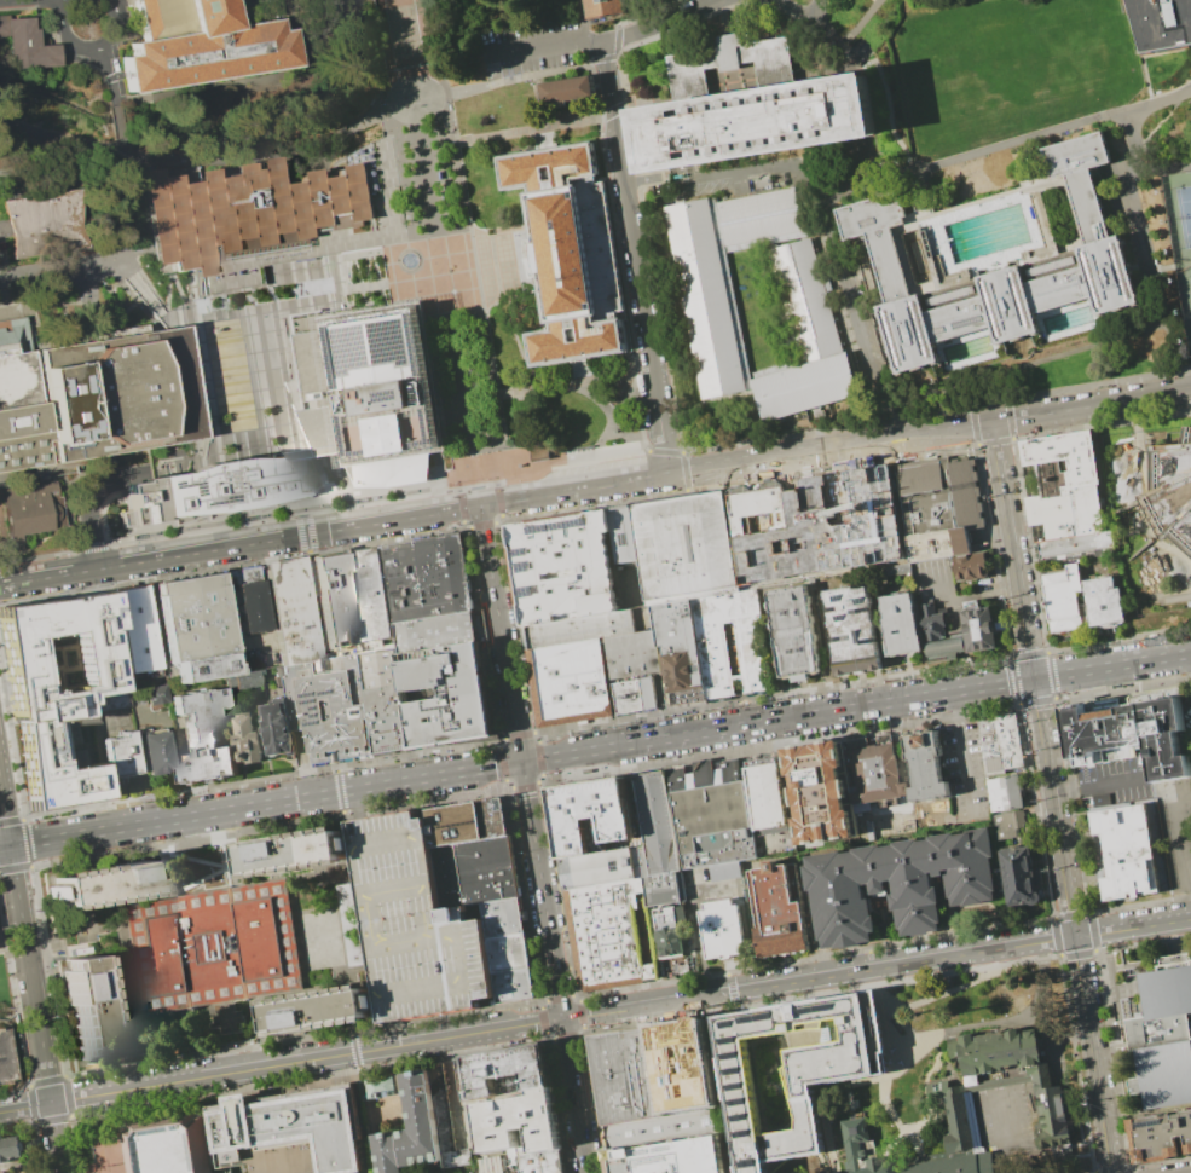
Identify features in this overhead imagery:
road: (19, 0)
road: (60, 1)
road: (237, 2)
building: (602, 7)
road: (680, 7)
road: (820, 11)
road: (648, 13)
road: (721, 16)
road: (866, 17)
road: (664, 24)
road: (736, 24)
building: (1161, 24)
road: (823, 27)
road: (401, 34)
road: (617, 42)
building: (25, 44)
building: (200, 45)
road: (548, 45)
road: (89, 48)
parking lot: (533, 50)
building: (727, 50)
road: (606, 54)
road: (813, 54)
road: (618, 57)
road: (603, 59)
road: (728, 59)
road: (591, 65)
road: (495, 69)
road: (852, 71)
road: (111, 77)
road: (510, 82)
building: (566, 89)
road: (259, 91)
road: (666, 96)
road: (380, 100)
road: (629, 100)
road: (889, 103)
road: (264, 106)
road: (857, 106)
road: (624, 108)
road: (613, 111)
building: (751, 111)
road: (118, 114)
road: (206, 115)
road: (600, 117)
road: (1158, 125)
road: (532, 131)
road: (1051, 132)
road: (121, 139)
road: (540, 143)
road: (641, 143)
road: (441, 145)
road: (844, 149)
road: (862, 149)
road: (308, 157)
road: (210, 160)
road: (878, 160)
road: (770, 167)
road: (1163, 171)
road: (840, 184)
road: (127, 187)
building: (254, 209)
park: (1184, 215)
building: (761, 216)
park: (1184, 216)
road: (613, 221)
parking lot: (1183, 224)
building: (50, 226)
road: (370, 229)
road: (470, 229)
road: (488, 229)
road: (484, 230)
road: (525, 230)
road: (126, 233)
building: (1180, 237)
road: (371, 252)
building: (570, 252)
road: (1151, 252)
road: (351, 256)
fountain: (412, 261)
building: (999, 264)
road: (637, 271)
road: (126, 272)
road: (70, 273)
road: (432, 276)
road: (443, 276)
road: (865, 276)
road: (445, 277)
road: (381, 278)
park: (1190, 284)
road: (351, 288)
building: (805, 297)
road: (521, 300)
building: (706, 300)
road: (368, 301)
road: (777, 304)
road: (856, 306)
road: (163, 310)
road: (173, 313)
rooftop solar panel: (372, 316)
road: (738, 319)
rooftop solar panel: (418, 333)
rooftop solar panel: (395, 337)
rooftop solar panel: (336, 341)
rooftop solar panel: (358, 342)
road: (520, 352)
road: (1028, 364)
road: (643, 371)
rooftop solar panel: (76, 376)
road: (635, 376)
rooftop solar panel: (53, 377)
rooftop solar panel: (68, 383)
road: (572, 383)
building: (375, 387)
building: (805, 387)
rooftop solar panel: (398, 389)
building: (117, 394)
road: (481, 398)
building: (18, 400)
road: (671, 400)
rooftop solar panel: (67, 411)
road: (640, 412)
road: (613, 415)
road: (613, 417)
road: (1008, 417)
rooftop solar panel: (432, 420)
rooftop solar panel: (86, 423)
road: (972, 423)
road: (1102, 424)
rooftop solar panel: (60, 428)
road: (929, 433)
rooftop solar panel: (349, 439)
road: (995, 440)
rooftop solar panel: (422, 441)
road: (317, 449)
rooftop solar panel: (365, 449)
road: (647, 450)
road: (935, 450)
road: (618, 452)
road: (665, 452)
parking lot: (155, 470)
road: (684, 470)
building: (392, 472)
road: (495, 478)
rooftop solar panel: (291, 480)
rooftop solar panel: (187, 481)
road: (459, 484)
building: (1063, 485)
rooftop solar panel: (208, 487)
road: (314, 487)
road: (428, 487)
rooftop solar panel: (241, 489)
road: (688, 489)
road: (696, 489)
road: (574, 491)
building: (207, 492)
building: (1155, 493)
rooftop solar panel: (219, 495)
road: (478, 495)
rooftop solar panel: (174, 497)
road: (985, 497)
road: (497, 498)
road: (349, 502)
road: (96, 504)
road: (462, 505)
road: (60, 507)
traffic signals: (480, 507)
building: (25, 510)
road: (499, 516)
road: (497, 521)
road: (301, 522)
rooftop solar panel: (572, 522)
road: (481, 525)
building: (817, 525)
road: (468, 526)
road: (354, 527)
rooftop solar panel: (540, 528)
parking lot: (988, 528)
road: (1116, 531)
building: (1075, 543)
road: (305, 544)
road: (1030, 544)
road: (93, 545)
building: (683, 547)
road: (24, 550)
rooftop solar panel: (527, 550)
road: (1013, 550)
road: (40, 554)
road: (163, 557)
road: (232, 565)
rooftop solar panel: (527, 566)
building: (971, 571)
road: (50, 577)
building: (578, 577)
building: (429, 580)
parking lot: (937, 583)
road: (1010, 590)
rooftop solar panel: (530, 591)
building: (369, 596)
road: (960, 599)
building: (1065, 599)
building: (1105, 601)
building: (333, 602)
road: (1001, 603)
building: (249, 605)
road: (316, 613)
building: (293, 614)
rooftop solar panel: (843, 616)
building: (901, 623)
building: (195, 629)
building: (956, 629)
building: (137, 630)
building: (852, 630)
road: (519, 631)
road: (501, 634)
road: (481, 635)
building: (794, 635)
building: (439, 636)
road: (1118, 638)
building: (751, 647)
building: (677, 652)
building: (630, 654)
building: (268, 658)
road: (735, 664)
traffic signals: (1035, 678)
building: (242, 681)
building: (570, 681)
building: (54, 686)
rooftop solar panel: (323, 692)
rooftop solar panel: (310, 693)
building: (632, 694)
road: (773, 694)
building: (156, 697)
building: (385, 697)
building: (449, 697)
road: (1054, 698)
rooftop solar panel: (312, 699)
building: (115, 700)
road: (955, 705)
rooftop solar panel: (314, 706)
building: (329, 710)
parking lot: (1187, 712)
rooftop solar panel: (316, 713)
road: (329, 713)
rooftop solar panel: (316, 721)
building: (278, 728)
road: (533, 733)
road: (518, 735)
building: (1135, 735)
building: (203, 736)
building: (247, 740)
building: (999, 742)
road: (11, 749)
road: (600, 749)
road: (539, 751)
building: (155, 752)
building: (121, 755)
road: (501, 757)
traffic signals: (521, 762)
road: (964, 763)
building: (924, 765)
parking lot: (964, 770)
road: (337, 772)
building: (877, 776)
road: (264, 779)
parking lot: (1112, 780)
road: (1100, 786)
building: (822, 792)
building: (1004, 792)
building: (769, 796)
road: (387, 802)
building: (590, 813)
building: (712, 813)
road: (5, 814)
building: (498, 822)
building: (1011, 824)
building: (461, 828)
parking lot: (1176, 831)
building: (658, 840)
road: (5, 845)
traffic signals: (10, 845)
road: (27, 845)
road: (233, 850)
road: (1183, 850)
building: (1128, 851)
building: (295, 855)
road: (161, 861)
building: (602, 867)
building: (1019, 876)
building: (482, 878)
road: (274, 880)
building: (903, 883)
building: (105, 885)
road: (542, 889)
road: (129, 902)
building: (779, 909)
road: (120, 918)
road: (362, 919)
road: (412, 920)
building: (509, 923)
road: (1073, 925)
building: (423, 926)
parking lot: (423, 926)
building: (670, 930)
building: (722, 930)
building: (611, 935)
road: (330, 941)
road: (73, 942)
building: (213, 947)
road: (13, 952)
building: (515, 955)
parking lot: (1039, 961)
road: (376, 963)
road: (877, 966)
road: (117, 978)
building: (520, 987)
road: (952, 987)
road: (293, 993)
road: (186, 1002)
rooftop solar panel: (833, 1005)
road: (35, 1009)
building: (324, 1009)
rooftop solar panel: (813, 1009)
building: (88, 1010)
road: (18, 1016)
rooftop solar panel: (771, 1016)
traffic signals: (563, 1018)
rooftop solar panel: (753, 1018)
rooftop solar panel: (735, 1022)
road: (440, 1027)
building: (1163, 1036)
rooftop solar panel: (736, 1039)
rooftop solar panel: (739, 1056)
building: (5, 1057)
road: (282, 1063)
parking lot: (509, 1064)
building: (502, 1069)
building: (682, 1071)
rooftop solar panel: (741, 1071)
building: (798, 1074)
road: (890, 1077)
building: (630, 1080)
rooftop solar panel: (745, 1086)
road: (451, 1088)
building: (1048, 1092)
road: (576, 1094)
rooftop solar panel: (746, 1102)
rooftop solar panel: (747, 1117)
building: (444, 1119)
building: (400, 1122)
building: (519, 1123)
building: (665, 1131)
building: (245, 1132)
rooftop solar panel: (751, 1133)
road: (1004, 1134)
building: (1162, 1136)
building: (10, 1149)
building: (862, 1149)
building: (673, 1156)
building: (540, 1162)
rooftop solar panel: (756, 1163)
building: (952, 1165)

